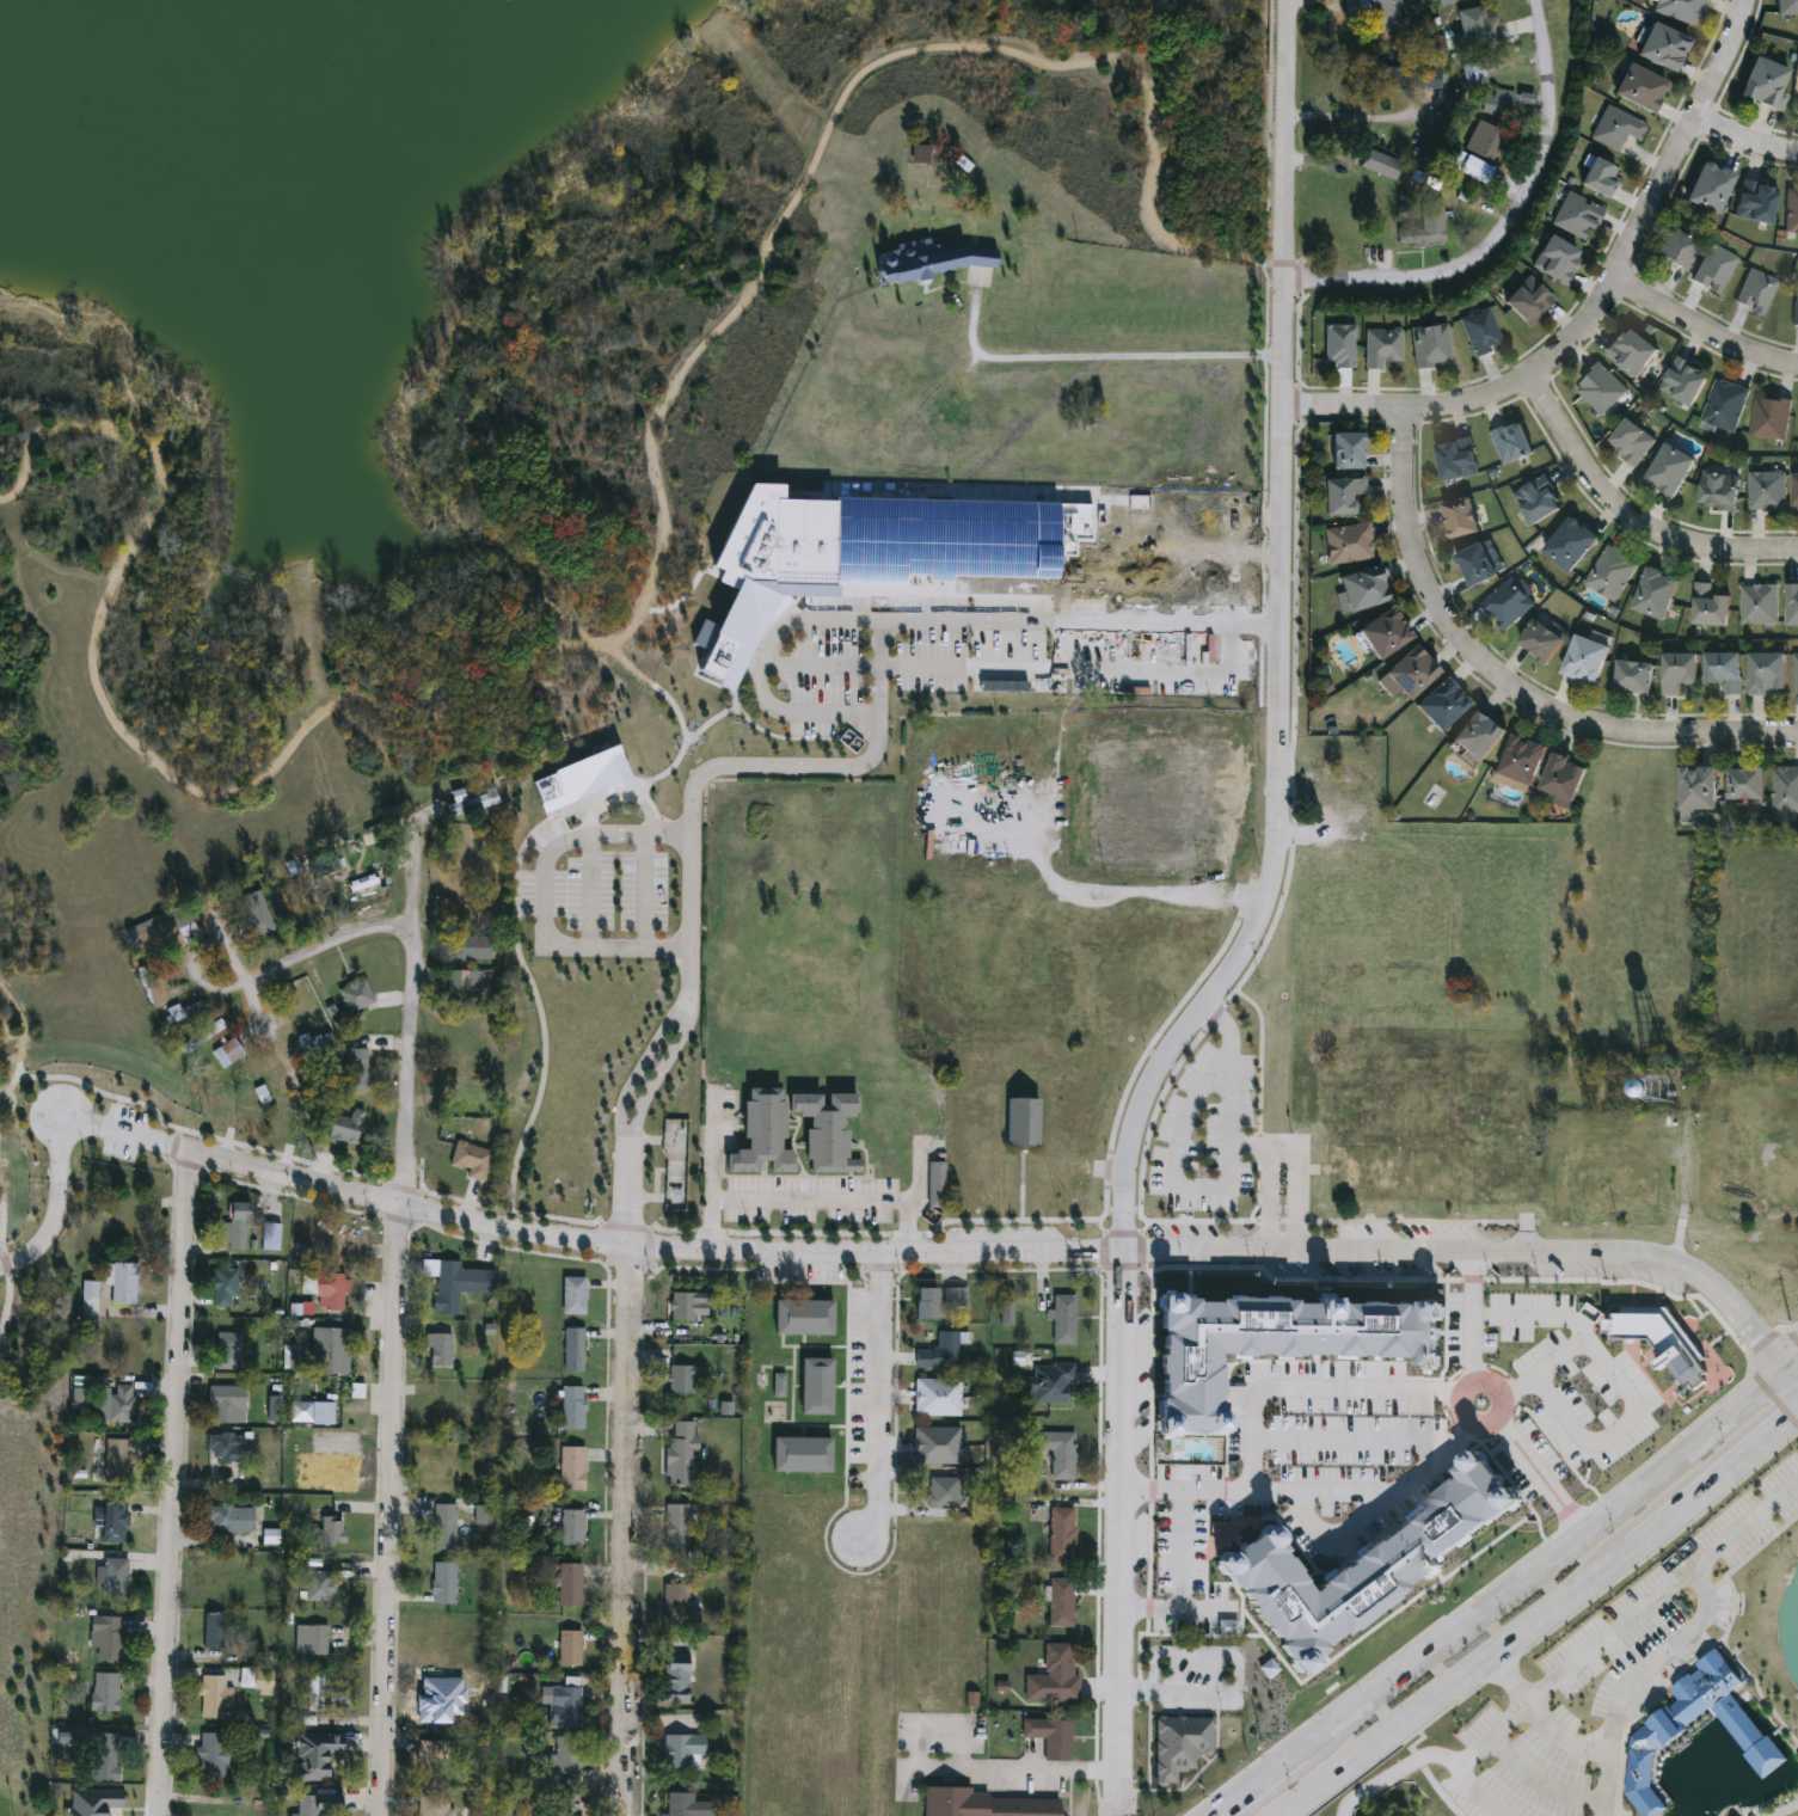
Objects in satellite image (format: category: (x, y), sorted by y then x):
building: (1785, 8)
building: (1679, 10)
building: (1375, 14)
building: (1474, 30)
building: (1659, 48)
building: (1392, 69)
building: (1471, 74)
building: (1436, 81)
building: (1762, 84)
building: (1638, 90)
building: (1498, 105)
road: (1357, 117)
building: (1615, 129)
road: (1748, 136)
building: (1484, 154)
building: (919, 155)
building: (1379, 165)
building: (1597, 179)
building: (1707, 188)
building: (1754, 203)
building: (1791, 210)
building: (1575, 217)
road: (1501, 223)
building: (1425, 225)
building: (1671, 250)
building: (1553, 260)
building: (934, 264)
building: (1713, 270)
building: (1754, 293)
building: (1526, 302)
building: (1794, 308)
road: (1596, 312)
road: (1708, 324)
building: (1479, 332)
building: (1337, 346)
building: (1429, 346)
building: (1381, 348)
building: (1628, 352)
road: (1097, 356)
building: (1680, 382)
building: (1597, 391)
building: (1722, 406)
building: (1767, 418)
building: (1508, 443)
building: (1627, 443)
building: (1343, 453)
building: (1452, 460)
building: (1665, 472)
building: (1714, 490)
building: (1763, 491)
building: (1793, 492)
building: (1338, 496)
building: (1534, 501)
road: (1630, 516)
building: (1456, 519)
building: (1210, 538)
building: (1346, 545)
building: (1566, 545)
building: (884, 551)
building: (1472, 565)
building: (1608, 573)
road: (651, 579)
building: (1357, 591)
building: (1651, 594)
building: (1505, 602)
building: (1757, 605)
building: (1705, 606)
building: (1790, 606)
park: (523, 619)
building: (1381, 634)
road: (1278, 642)
building: (1535, 642)
building: (1581, 661)
road: (822, 663)
road: (990, 667)
road: (762, 671)
building: (1720, 671)
building: (1674, 673)
building: (1763, 674)
building: (1793, 674)
building: (1405, 675)
road: (1505, 677)
building: (1628, 677)
building: (1211, 680)
building: (1438, 705)
building: (1474, 736)
building: (1518, 761)
building: (1146, 763)
building: (1558, 780)
building: (1742, 785)
road: (1068, 787)
building: (1693, 790)
building: (1784, 790)
building: (1339, 796)
building: (467, 803)
road: (1150, 824)
building: (1086, 832)
road: (417, 836)
building: (350, 881)
road: (1226, 882)
road: (544, 891)
road: (590, 891)
road: (644, 891)
building: (252, 914)
building: (162, 933)
road: (232, 944)
road: (692, 945)
road: (330, 946)
building: (467, 949)
building: (460, 984)
building: (155, 995)
building: (354, 996)
road: (264, 1011)
building: (180, 1012)
building: (204, 1033)
road: (20, 1038)
building: (309, 1044)
building: (226, 1054)
road: (542, 1062)
building: (1498, 1063)
building: (356, 1069)
road: (1229, 1069)
building: (282, 1070)
road: (54, 1079)
building: (221, 1079)
street lamp: (115, 1090)
road: (13, 1103)
street lamp: (155, 1103)
street lamp: (24, 1105)
building: (1019, 1122)
building: (343, 1129)
building: (760, 1134)
building: (1420, 1140)
road: (717, 1148)
building: (1603, 1149)
building: (468, 1160)
street lamp: (48, 1162)
road: (1173, 1164)
road: (1296, 1164)
building: (1780, 1170)
building: (1618, 1185)
building: (934, 1186)
road: (1265, 1197)
road: (811, 1201)
road: (55, 1207)
street lamp: (68, 1207)
road: (1679, 1208)
road: (4, 1219)
building: (233, 1226)
building: (269, 1237)
road: (946, 1250)
street lamp: (17, 1274)
building: (478, 1282)
building: (121, 1284)
building: (442, 1286)
building: (223, 1288)
building: (330, 1290)
road: (10, 1293)
building: (572, 1296)
building: (953, 1297)
building: (87, 1299)
building: (922, 1303)
building: (683, 1305)
building: (800, 1317)
building: (1062, 1319)
road: (1474, 1319)
road: (1582, 1330)
road: (392, 1336)
building: (1659, 1338)
building: (1282, 1340)
building: (572, 1349)
building: (227, 1351)
building: (329, 1351)
building: (437, 1351)
building: (938, 1352)
building: (296, 1356)
building: (680, 1380)
building: (1050, 1382)
building: (812, 1386)
road: (1462, 1389)
road: (1263, 1392)
road: (879, 1395)
building: (935, 1397)
building: (225, 1404)
building: (118, 1405)
building: (571, 1407)
building: (1608, 1416)
building: (1532, 1422)
road: (1610, 1432)
road: (1368, 1440)
building: (302, 1446)
building: (222, 1447)
building: (935, 1447)
building: (798, 1454)
building: (679, 1455)
building: (118, 1458)
building: (1060, 1458)
building: (1174, 1462)
building: (571, 1468)
road: (1539, 1473)
road: (185, 1483)
road: (1367, 1492)
building: (940, 1493)
building: (228, 1520)
building: (113, 1527)
building: (443, 1527)
building: (675, 1528)
road: (1339, 1529)
building: (569, 1530)
road: (1119, 1530)
building: (327, 1532)
building: (1061, 1535)
building: (1176, 1535)
road: (1185, 1548)
building: (1368, 1557)
building: (111, 1577)
park: (1755, 1578)
building: (442, 1583)
building: (317, 1587)
building: (569, 1587)
road: (1505, 1587)
building: (1391, 1600)
building: (1173, 1602)
building: (1060, 1603)
building: (674, 1605)
road: (1540, 1614)
building: (1367, 1622)
building: (211, 1631)
building: (103, 1637)
road: (1607, 1638)
building: (309, 1640)
building: (569, 1649)
road: (1650, 1657)
road: (1241, 1673)
building: (1051, 1677)
building: (674, 1680)
building: (103, 1692)
building: (213, 1697)
building: (564, 1707)
building: (1655, 1731)
building: (1050, 1737)
road: (1406, 1742)
building: (1178, 1746)
building: (679, 1751)
building: (211, 1755)
building: (314, 1755)
road: (1437, 1755)
building: (425, 1756)
building: (102, 1760)
building: (563, 1761)
road: (1013, 1769)
road: (1607, 1780)
road: (1542, 1783)
road: (1437, 1791)
road: (1481, 1793)
park: (6, 1798)
building: (988, 1804)
building: (303, 1805)
building: (434, 1805)
building: (563, 1805)
building: (681, 1805)
road: (1785, 1810)

